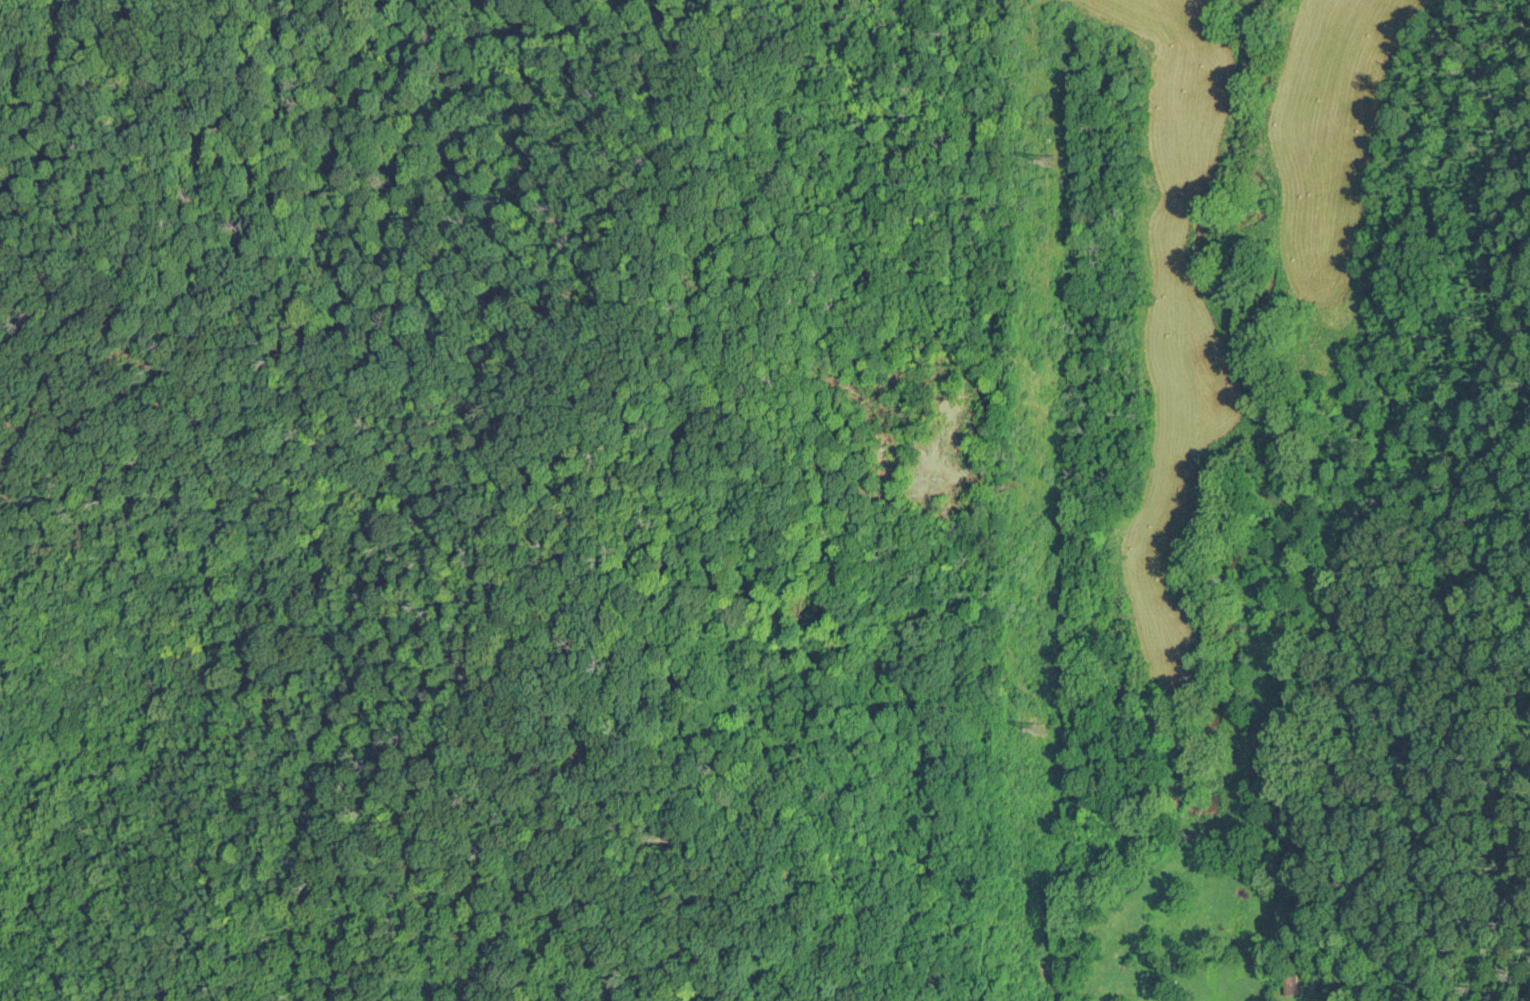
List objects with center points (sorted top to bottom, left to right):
power tower: (1047, 164)
power tower: (1039, 727)
building: (1292, 984)

